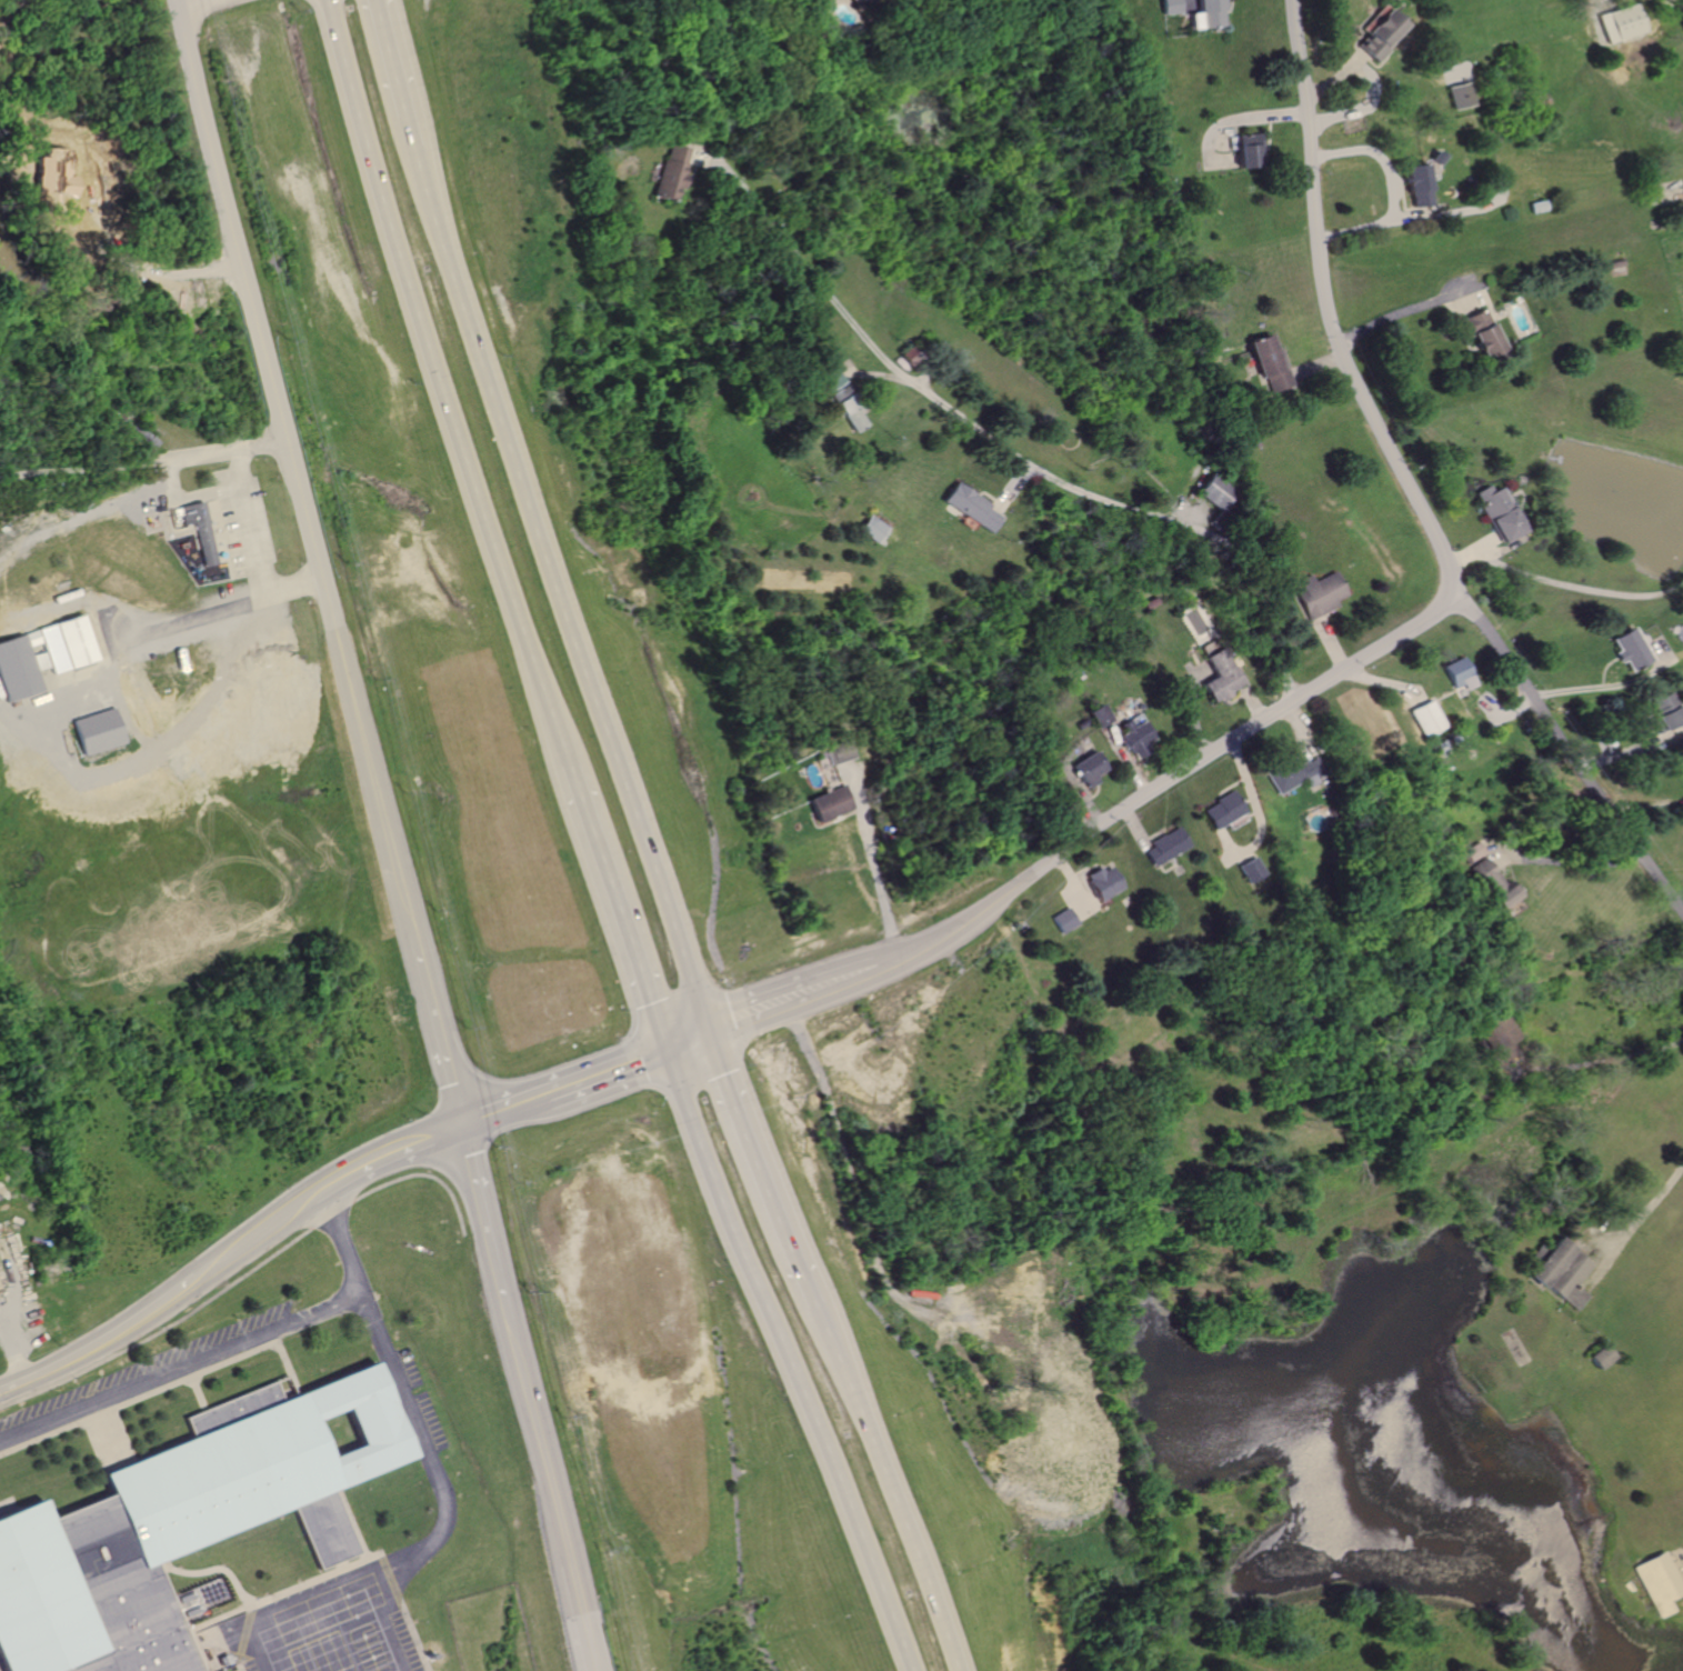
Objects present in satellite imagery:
road: (179, 1)
building: (855, 1)
road: (1182, 2)
building: (1168, 6)
road: (1601, 6)
building: (1203, 12)
building: (1617, 22)
building: (1375, 31)
road: (403, 70)
road: (1334, 76)
building: (1455, 94)
road: (1239, 119)
building: (1244, 149)
building: (664, 171)
building: (1412, 182)
building: (1532, 204)
road: (1372, 223)
road: (794, 254)
road: (149, 273)
road: (1406, 309)
building: (1480, 331)
building: (910, 356)
building: (1265, 361)
road: (1313, 366)
road: (868, 372)
building: (828, 378)
road: (923, 379)
road: (443, 384)
building: (845, 406)
road: (121, 463)
road: (292, 466)
road: (1011, 490)
building: (1211, 492)
building: (969, 506)
road: (1132, 511)
building: (1495, 511)
road: (1190, 514)
road: (254, 519)
building: (873, 528)
building: (197, 529)
road: (1483, 542)
road: (1562, 583)
road: (554, 591)
building: (1316, 593)
building: (1150, 602)
road: (1427, 617)
road: (203, 621)
road: (1330, 641)
building: (1624, 648)
road: (1652, 651)
building: (42, 654)
building: (1453, 671)
building: (1218, 673)
road: (1382, 682)
road: (1609, 684)
road: (1248, 700)
road: (1191, 709)
road: (1505, 710)
building: (1662, 711)
building: (1092, 714)
building: (1423, 718)
building: (1472, 722)
building: (1076, 723)
road: (1296, 730)
building: (97, 731)
building: (1129, 737)
road: (1566, 748)
building: (835, 751)
road: (1632, 751)
building: (1682, 753)
road: (1119, 758)
building: (1081, 768)
building: (1289, 772)
road: (1075, 793)
building: (824, 801)
road: (1251, 804)
road: (1646, 806)
building: (1219, 809)
road: (1129, 828)
road: (1225, 839)
building: (1159, 845)
building: (1473, 851)
road: (1240, 855)
road: (1564, 858)
road: (871, 859)
building: (1246, 870)
building: (1095, 881)
building: (1492, 882)
road: (1071, 888)
road: (613, 908)
building: (1061, 919)
road: (793, 1003)
road: (435, 1030)
traffic signals: (709, 1037)
building: (1499, 1038)
road: (687, 1043)
traffic signals: (665, 1051)
road: (1590, 1064)
road: (604, 1072)
road: (502, 1111)
road: (378, 1161)
road: (758, 1171)
road: (853, 1191)
road: (484, 1224)
road: (1632, 1227)
road: (248, 1237)
building: (1561, 1273)
road: (103, 1340)
building: (1601, 1358)
road: (778, 1361)
road: (181, 1367)
road: (538, 1444)
road: (439, 1479)
road: (872, 1490)
building: (182, 1522)
road: (1682, 1569)
building: (1659, 1583)
road: (577, 1619)
road: (379, 1628)
road: (232, 1638)

